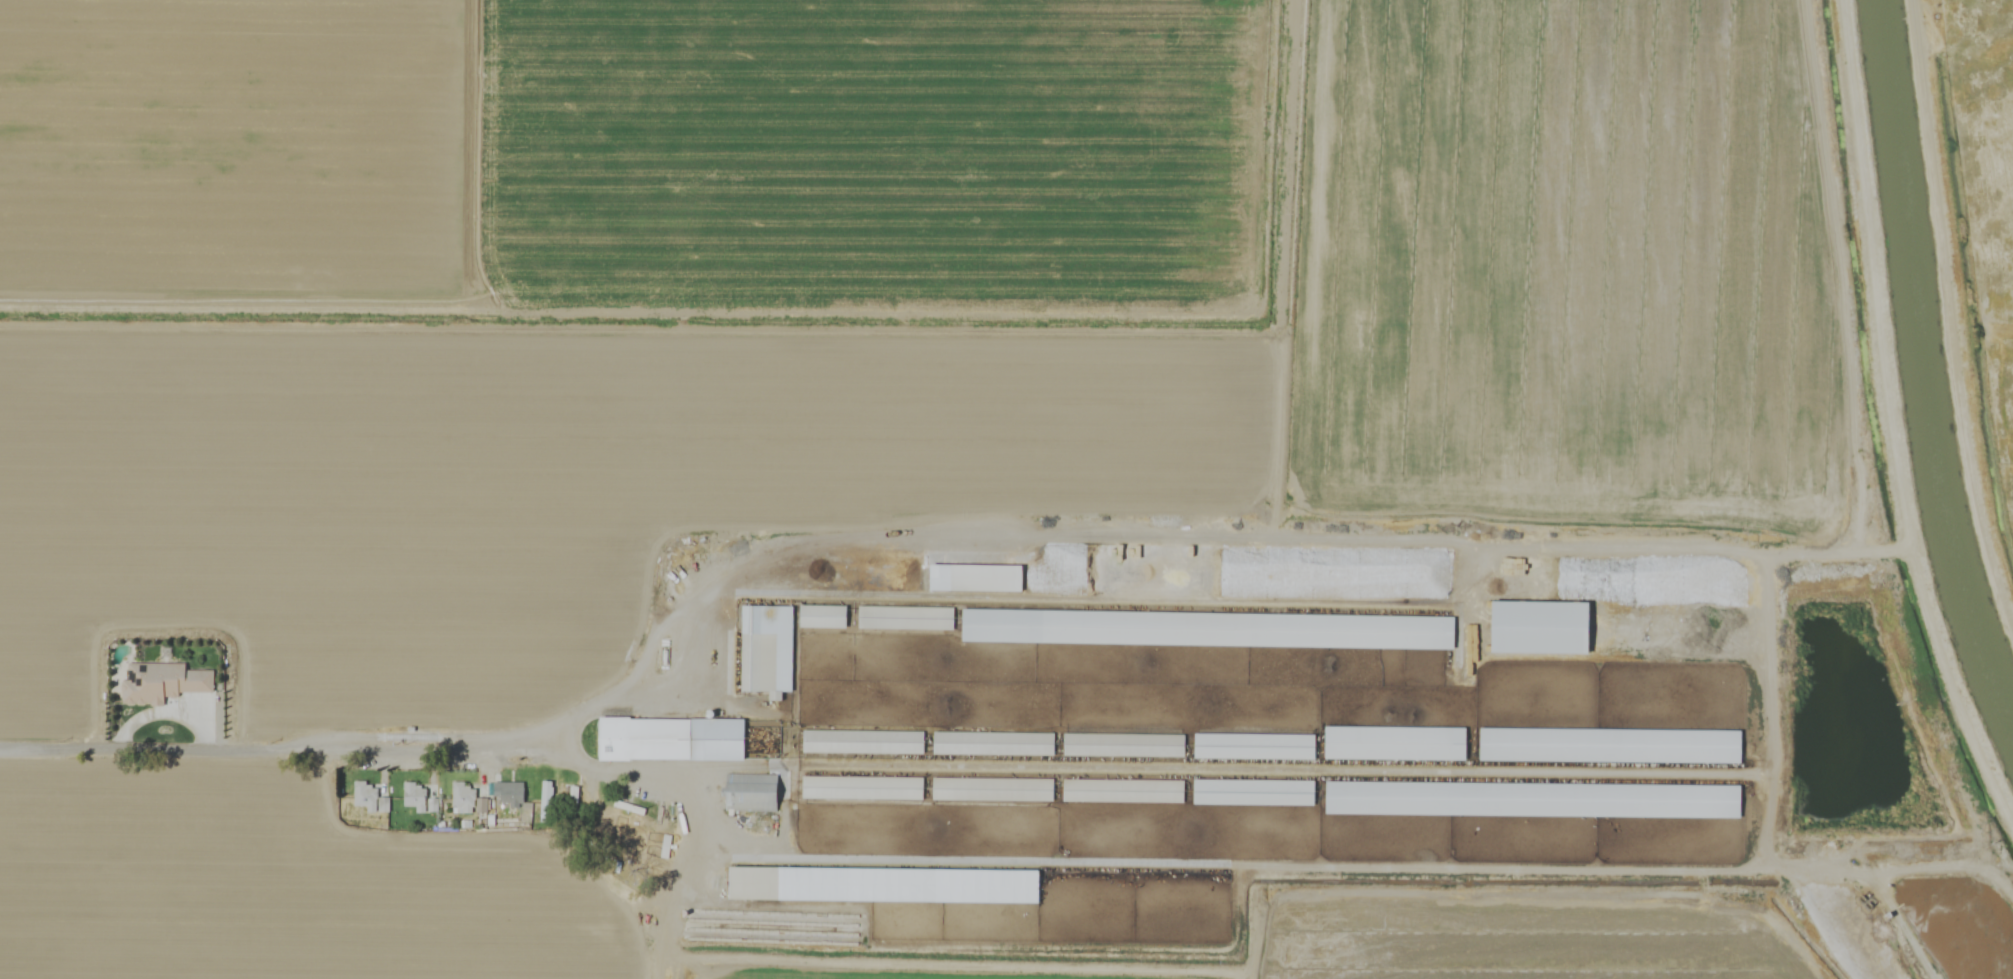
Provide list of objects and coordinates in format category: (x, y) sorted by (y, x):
crop: (822, 418)
building: (979, 577)
building: (826, 616)
building: (1026, 626)
building: (1548, 627)
building: (1417, 632)
building: (769, 650)
building: (164, 682)
road: (1769, 689)
building: (676, 739)
building: (860, 741)
building: (996, 743)
building: (1399, 743)
building: (1550, 745)
road: (281, 746)
building: (1257, 746)
building: (865, 788)
building: (510, 793)
building: (369, 795)
building: (419, 795)
building: (464, 799)
building: (1537, 799)
building: (482, 805)
building: (887, 885)

